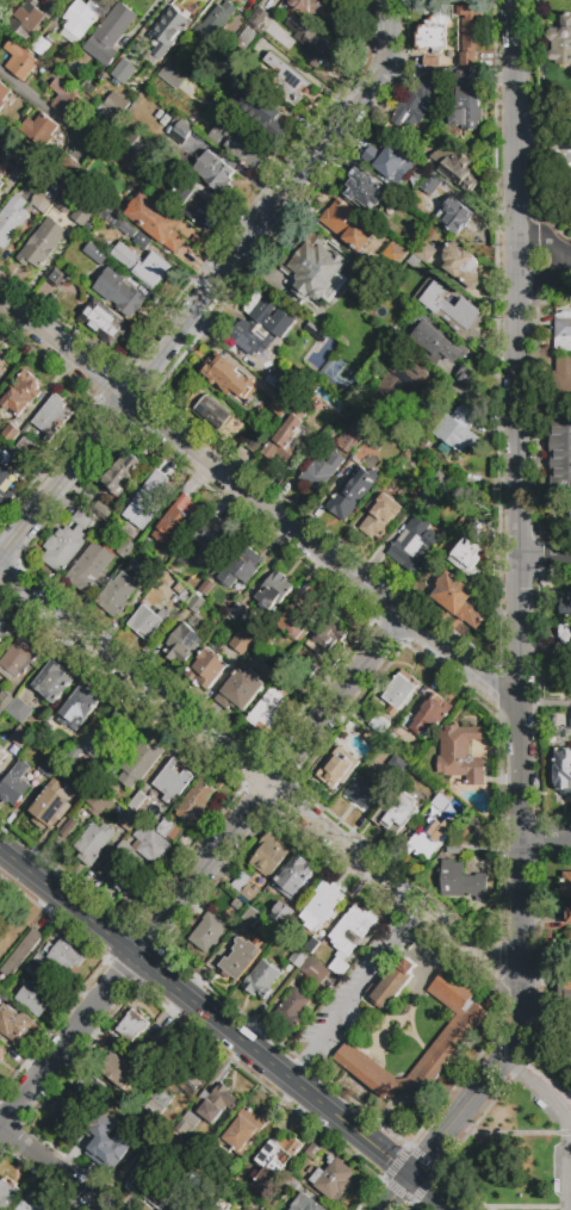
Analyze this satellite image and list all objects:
building: (327, 12)
building: (32, 15)
building: (257, 17)
building: (80, 20)
building: (216, 23)
building: (168, 30)
building: (433, 32)
building: (467, 33)
building: (110, 35)
building: (246, 41)
building: (560, 42)
building: (314, 43)
building: (42, 48)
building: (19, 61)
building: (432, 62)
building: (225, 67)
building: (123, 72)
building: (172, 76)
building: (287, 80)
building: (2, 94)
building: (66, 100)
road: (37, 101)
building: (415, 101)
building: (117, 103)
building: (464, 104)
building: (257, 111)
road: (544, 117)
building: (105, 118)
building: (193, 119)
building: (39, 130)
building: (180, 138)
building: (126, 139)
building: (0, 143)
building: (240, 144)
building: (30, 160)
building: (389, 161)
building: (454, 165)
building: (69, 168)
building: (564, 168)
building: (215, 173)
building: (1, 184)
building: (432, 186)
building: (367, 188)
building: (49, 191)
building: (0, 194)
building: (64, 203)
building: (198, 210)
building: (85, 211)
building: (454, 215)
building: (12, 221)
building: (155, 222)
building: (347, 225)
building: (125, 229)
building: (402, 236)
road: (546, 236)
building: (198, 242)
building: (42, 243)
building: (426, 253)
building: (393, 254)
building: (95, 255)
road: (566, 259)
building: (142, 266)
building: (463, 267)
building: (315, 269)
building: (421, 274)
building: (57, 279)
road: (546, 281)
road: (213, 287)
building: (119, 292)
building: (453, 310)
building: (104, 324)
building: (262, 324)
building: (329, 327)
building: (563, 330)
building: (317, 334)
building: (441, 340)
building: (1, 356)
building: (224, 376)
building: (467, 377)
building: (405, 380)
building: (279, 381)
building: (561, 386)
building: (21, 393)
building: (280, 405)
building: (213, 415)
building: (51, 417)
building: (322, 426)
building: (458, 428)
building: (8, 433)
building: (354, 435)
building: (286, 440)
building: (255, 441)
building: (24, 443)
building: (325, 443)
building: (0, 451)
building: (561, 453)
building: (19, 463)
building: (323, 472)
building: (122, 474)
building: (4, 476)
building: (432, 491)
building: (352, 494)
building: (148, 499)
building: (4, 502)
building: (98, 503)
road: (259, 503)
building: (377, 514)
building: (176, 521)
building: (213, 536)
building: (67, 541)
building: (412, 542)
building: (125, 550)
building: (467, 553)
road: (546, 561)
building: (89, 566)
building: (241, 567)
building: (175, 569)
building: (430, 576)
building: (154, 578)
building: (205, 588)
building: (274, 590)
building: (182, 595)
building: (118, 597)
building: (458, 601)
road: (521, 603)
building: (197, 604)
building: (565, 606)
building: (236, 612)
building: (300, 621)
building: (148, 625)
building: (5, 632)
building: (565, 633)
building: (328, 638)
building: (268, 641)
building: (182, 644)
building: (240, 644)
building: (18, 657)
building: (206, 670)
building: (309, 672)
building: (54, 681)
building: (569, 684)
building: (238, 690)
building: (398, 691)
building: (5, 700)
road: (546, 705)
building: (79, 708)
building: (19, 709)
building: (1, 711)
building: (267, 712)
building: (430, 715)
building: (567, 719)
building: (378, 724)
building: (50, 730)
building: (404, 732)
building: (20, 737)
building: (107, 737)
building: (371, 739)
building: (459, 753)
building: (1, 756)
building: (141, 761)
building: (48, 767)
building: (396, 769)
building: (336, 770)
building: (563, 774)
road: (257, 778)
building: (172, 782)
building: (15, 784)
building: (83, 784)
road: (272, 784)
building: (108, 786)
building: (362, 792)
building: (99, 801)
building: (137, 801)
building: (213, 801)
building: (193, 806)
building: (49, 807)
building: (396, 812)
building: (129, 820)
building: (166, 826)
building: (68, 827)
building: (432, 837)
building: (93, 842)
road: (546, 842)
building: (145, 844)
building: (453, 849)
building: (267, 855)
building: (99, 860)
building: (122, 876)
building: (294, 877)
building: (460, 882)
building: (566, 885)
building: (246, 891)
building: (235, 905)
building: (322, 906)
building: (280, 914)
building: (569, 916)
building: (253, 922)
building: (207, 932)
building: (340, 941)
building: (311, 945)
building: (21, 951)
building: (64, 956)
building: (241, 957)
building: (297, 958)
road: (145, 960)
building: (41, 961)
building: (311, 968)
building: (32, 972)
building: (261, 980)
building: (391, 985)
building: (565, 991)
road: (356, 992)
building: (32, 998)
building: (293, 1007)
building: (12, 1018)
building: (131, 1026)
building: (459, 1028)
road: (68, 1042)
building: (1, 1053)
building: (143, 1053)
building: (168, 1056)
building: (118, 1072)
building: (149, 1076)
building: (566, 1076)
building: (185, 1081)
building: (93, 1096)
building: (216, 1103)
building: (162, 1104)
road: (565, 1119)
building: (64, 1121)
building: (188, 1124)
road: (353, 1124)
building: (243, 1133)
road: (508, 1133)
building: (99, 1135)
building: (166, 1141)
building: (314, 1149)
building: (277, 1158)
road: (51, 1168)
road: (569, 1169)
traffic signals: (415, 1173)
building: (333, 1179)
building: (136, 1181)
building: (145, 1183)
building: (243, 1184)
road: (377, 1184)
building: (291, 1186)
road: (399, 1191)
road: (437, 1191)
building: (162, 1192)
building: (7, 1195)
road: (420, 1197)
building: (33, 1203)
building: (305, 1203)
building: (252, 1205)
building: (187, 1206)
road: (514, 1206)
building: (212, 1208)

